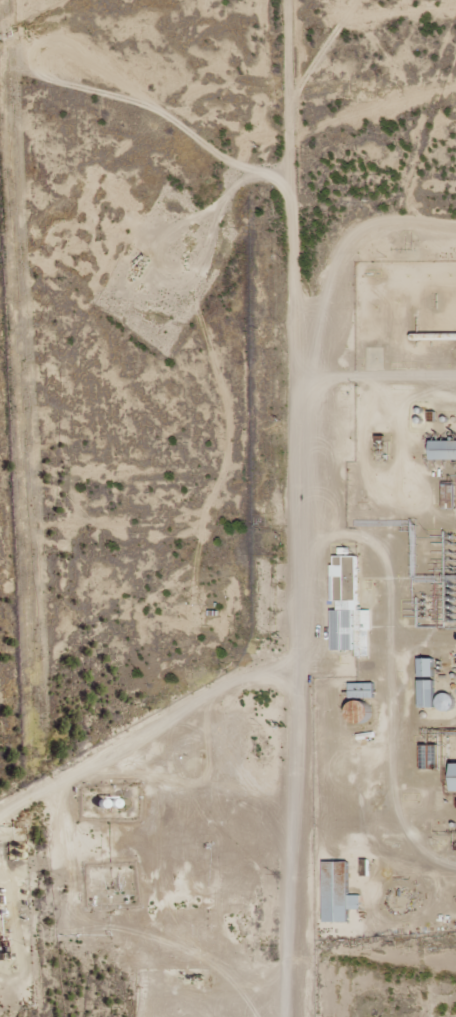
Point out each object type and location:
building: (443, 450)
road: (271, 508)
building: (347, 607)
building: (426, 667)
building: (426, 693)
road: (136, 704)
building: (454, 777)
building: (337, 893)

